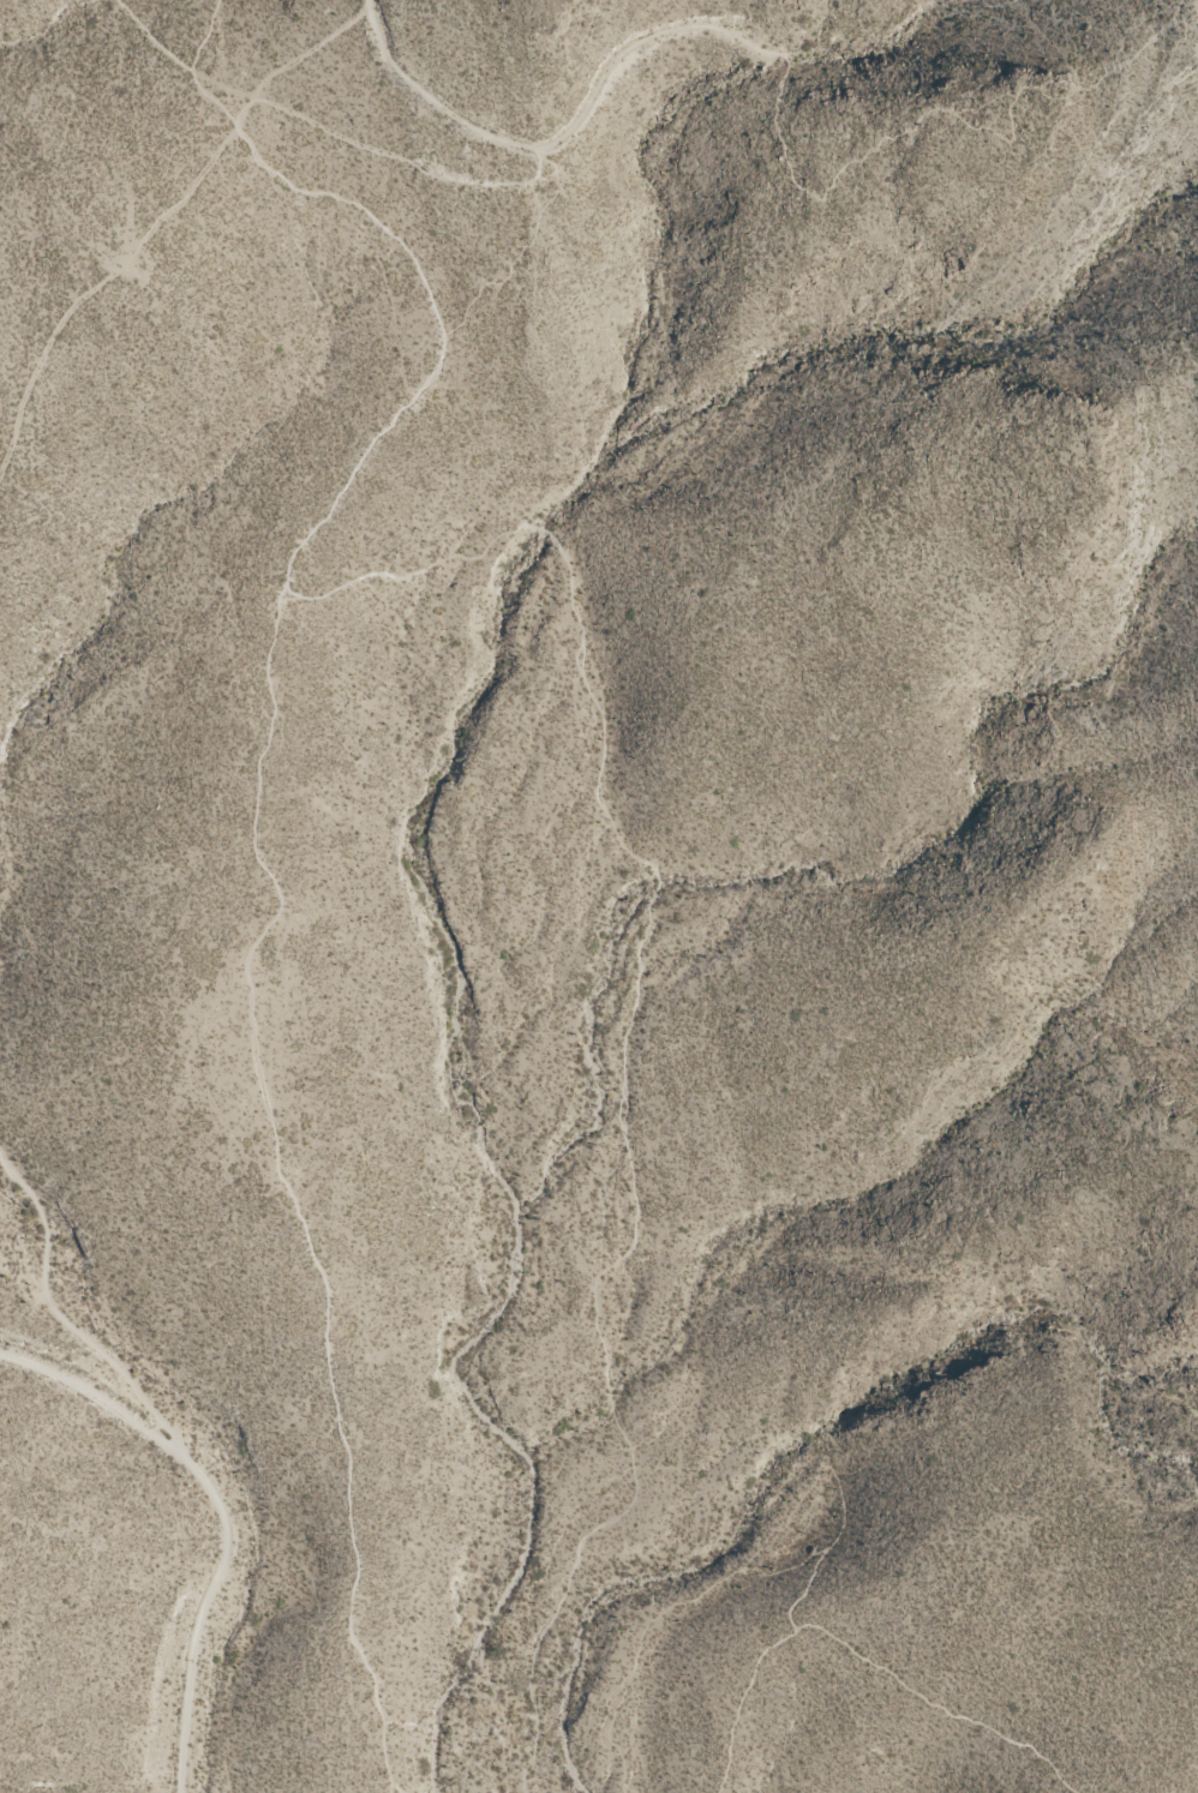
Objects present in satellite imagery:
road: (952, 113)
road: (318, 132)
road: (569, 134)
road: (160, 223)
road: (251, 823)
road: (628, 1035)
road: (89, 1395)
road: (182, 1452)
road: (865, 1660)
road: (1172, 1789)

